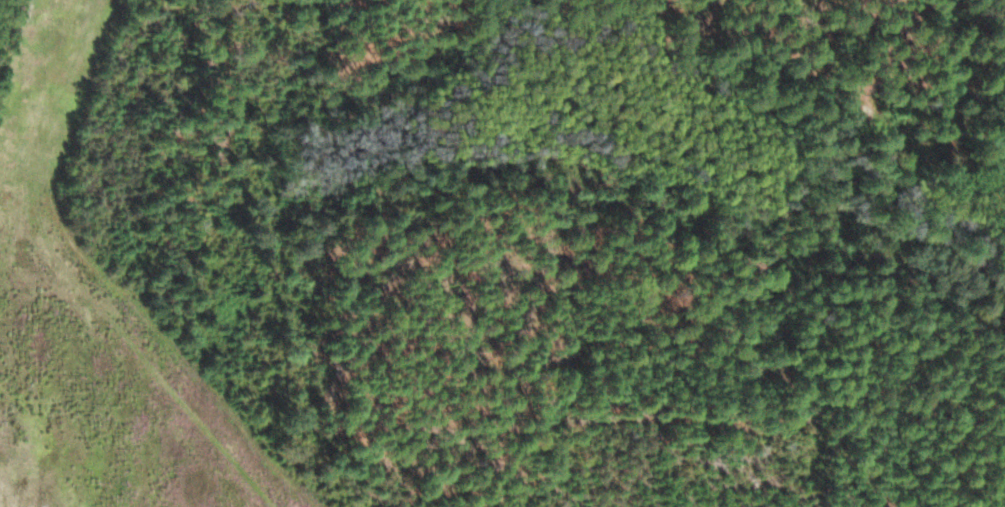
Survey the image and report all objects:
road: (774, 1)

